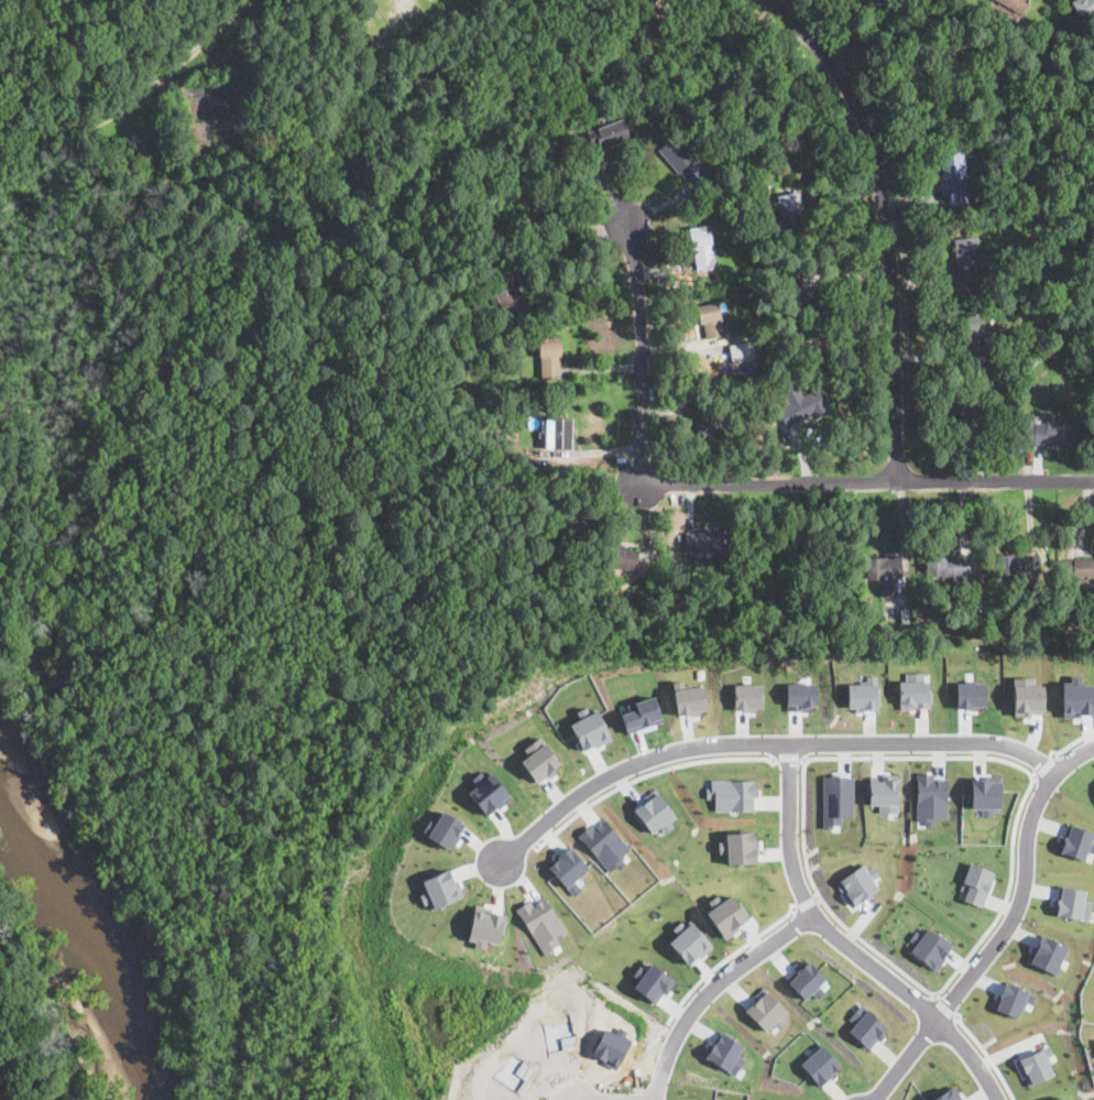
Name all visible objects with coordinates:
building: (647, 2)
building: (1013, 4)
building: (1083, 7)
building: (609, 133)
building: (732, 149)
building: (551, 150)
building: (986, 153)
building: (681, 155)
building: (952, 171)
building: (539, 207)
building: (789, 210)
building: (1035, 217)
road: (887, 225)
building: (516, 231)
road: (578, 240)
building: (701, 248)
building: (966, 259)
building: (478, 280)
building: (506, 294)
building: (1050, 308)
building: (710, 318)
building: (813, 319)
building: (975, 334)
road: (637, 352)
building: (547, 357)
building: (1004, 366)
building: (1007, 386)
building: (468, 392)
building: (532, 400)
building: (800, 405)
building: (700, 413)
building: (972, 414)
building: (560, 433)
building: (1049, 434)
road: (590, 450)
road: (866, 482)
building: (558, 519)
building: (707, 541)
building: (619, 557)
building: (1017, 565)
building: (948, 566)
building: (1079, 567)
building: (884, 573)
building: (603, 610)
building: (1030, 614)
building: (906, 617)
building: (954, 630)
building: (861, 633)
building: (914, 689)
building: (861, 694)
building: (970, 694)
building: (747, 695)
building: (800, 695)
building: (689, 697)
building: (641, 712)
building: (588, 730)
road: (757, 743)
road: (897, 755)
building: (537, 758)
road: (787, 760)
road: (643, 773)
building: (883, 791)
building: (488, 793)
building: (731, 793)
building: (984, 793)
building: (929, 797)
building: (835, 798)
building: (654, 812)
building: (441, 827)
building: (1076, 841)
building: (604, 843)
building: (737, 847)
building: (568, 868)
building: (857, 883)
building: (975, 883)
building: (439, 887)
building: (1071, 902)
building: (725, 914)
building: (541, 922)
building: (484, 925)
road: (1005, 928)
river: (78, 933)
building: (688, 940)
road: (846, 944)
building: (929, 947)
building: (1047, 952)
building: (806, 979)
building: (650, 981)
road: (709, 987)
building: (1011, 998)
road: (945, 1003)
building: (766, 1010)
building: (865, 1025)
park: (30, 1033)
building: (724, 1052)
road: (987, 1055)
building: (819, 1064)
building: (1035, 1066)
building: (947, 1094)
building: (1057, 1098)
building: (692, 1099)

